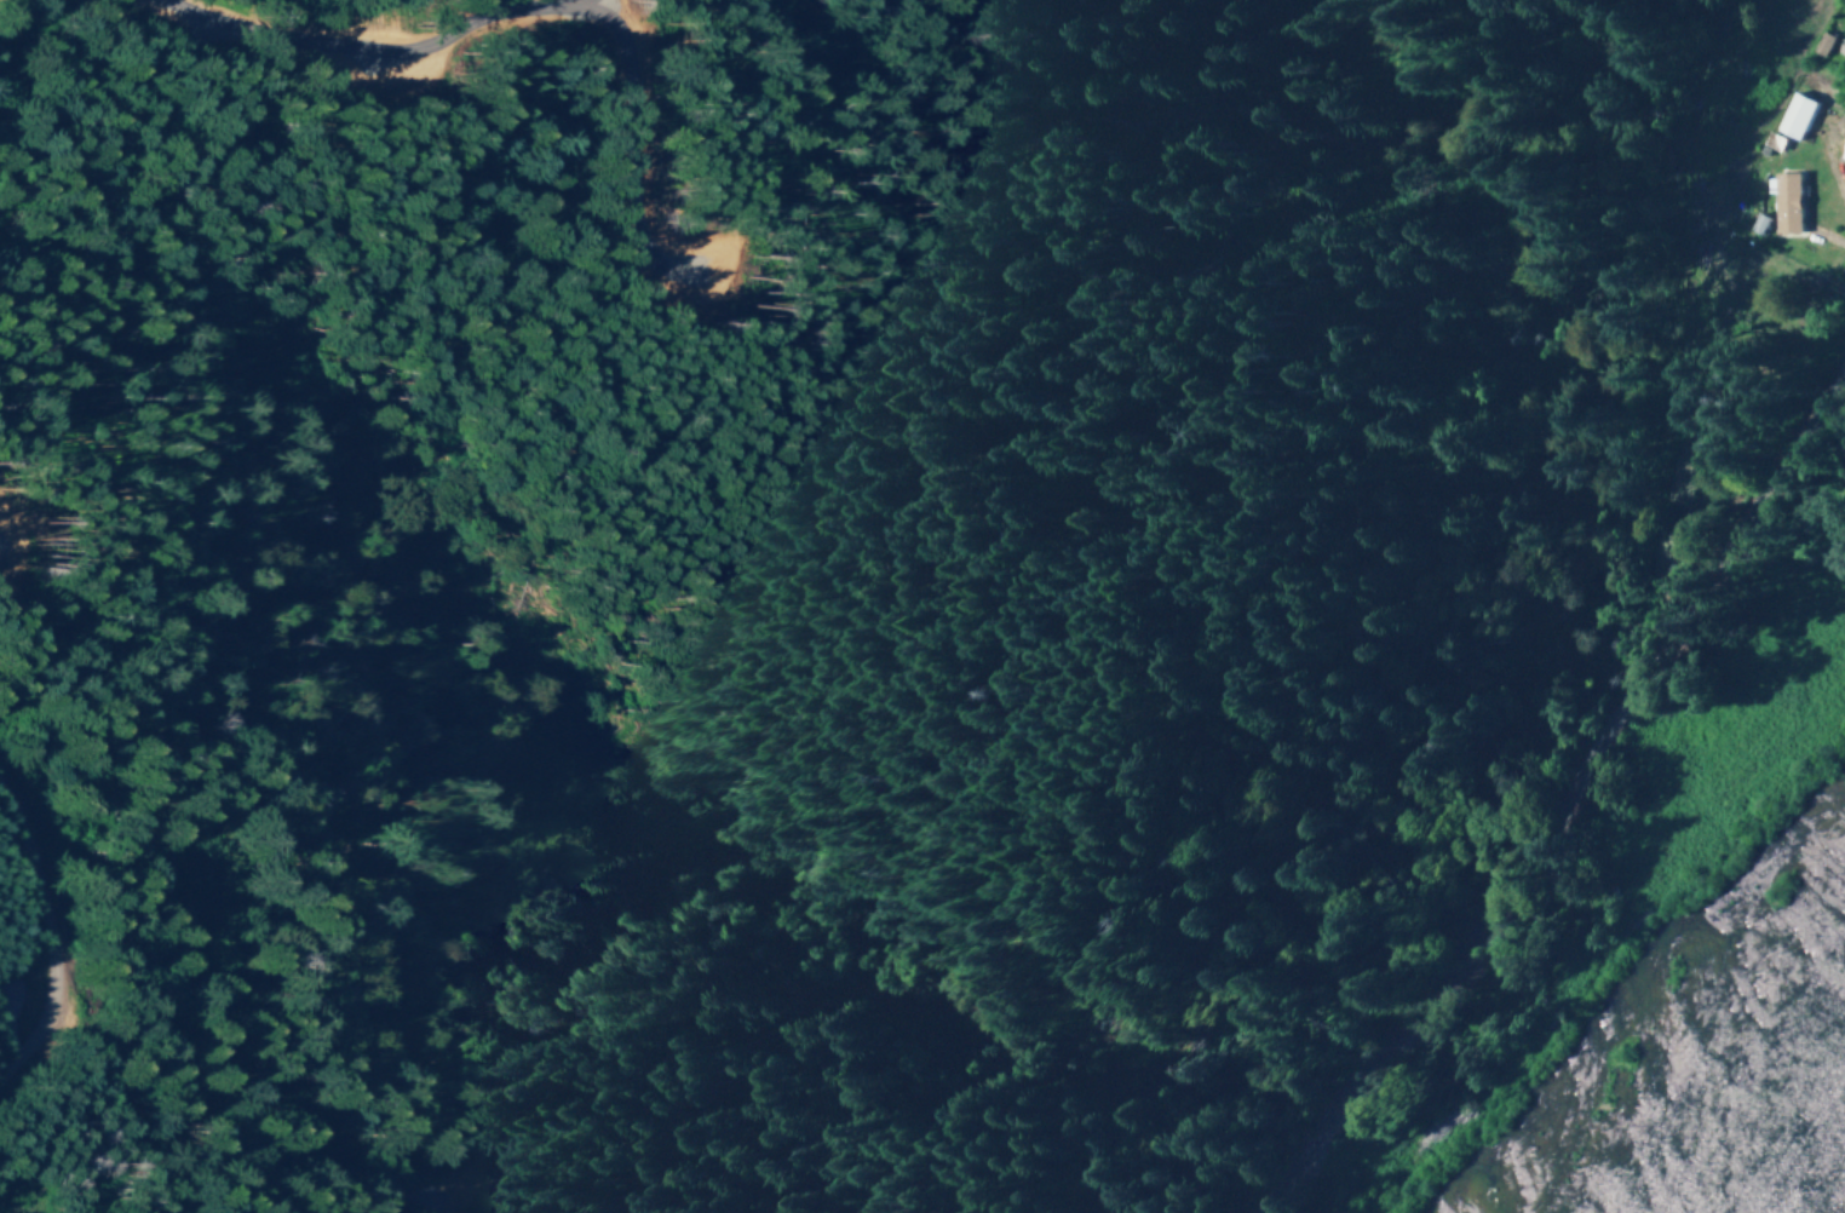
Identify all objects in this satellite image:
building: (1818, 44)
building: (1840, 47)
building: (1791, 116)
building: (1841, 149)
building: (1782, 203)
road: (1565, 801)
river: (1797, 1156)

